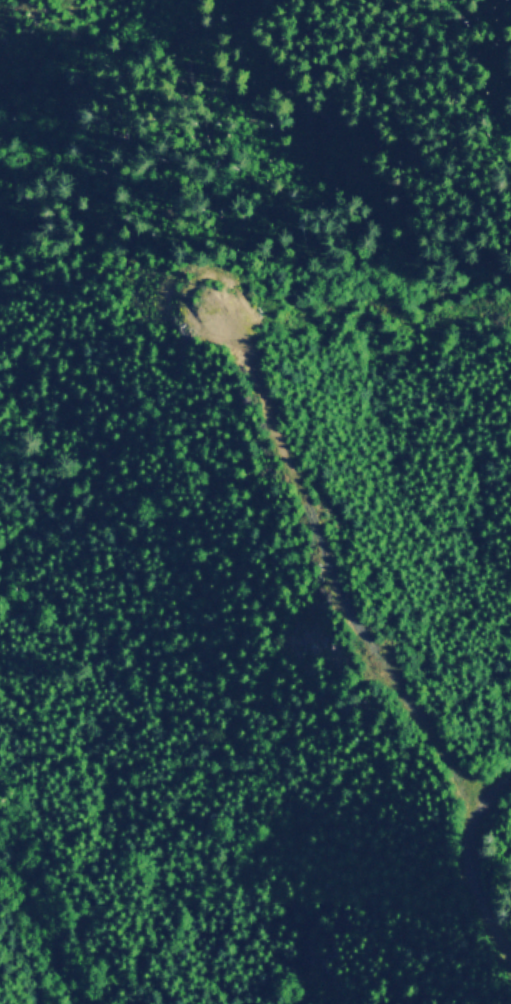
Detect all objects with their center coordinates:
road: (356, 596)
road: (472, 859)

